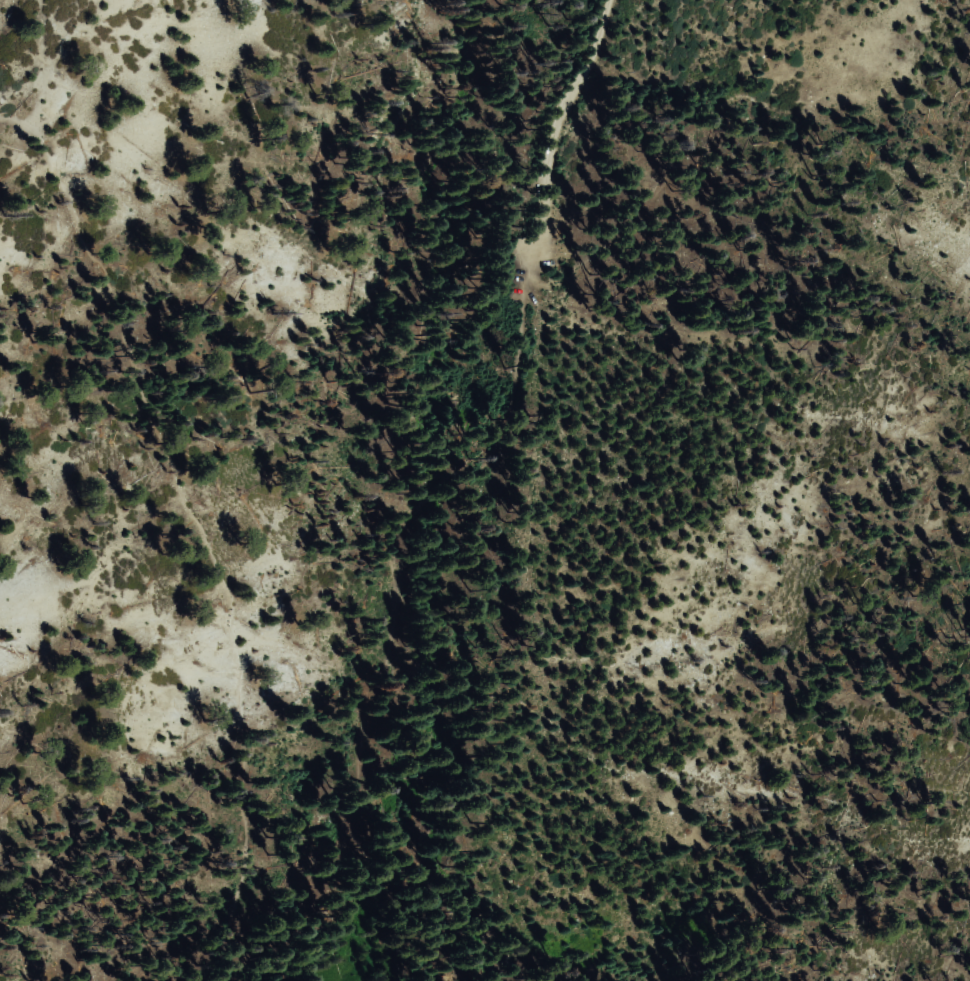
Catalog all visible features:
road: (541, 196)
parking lot: (497, 373)
road: (196, 527)
road: (376, 681)

